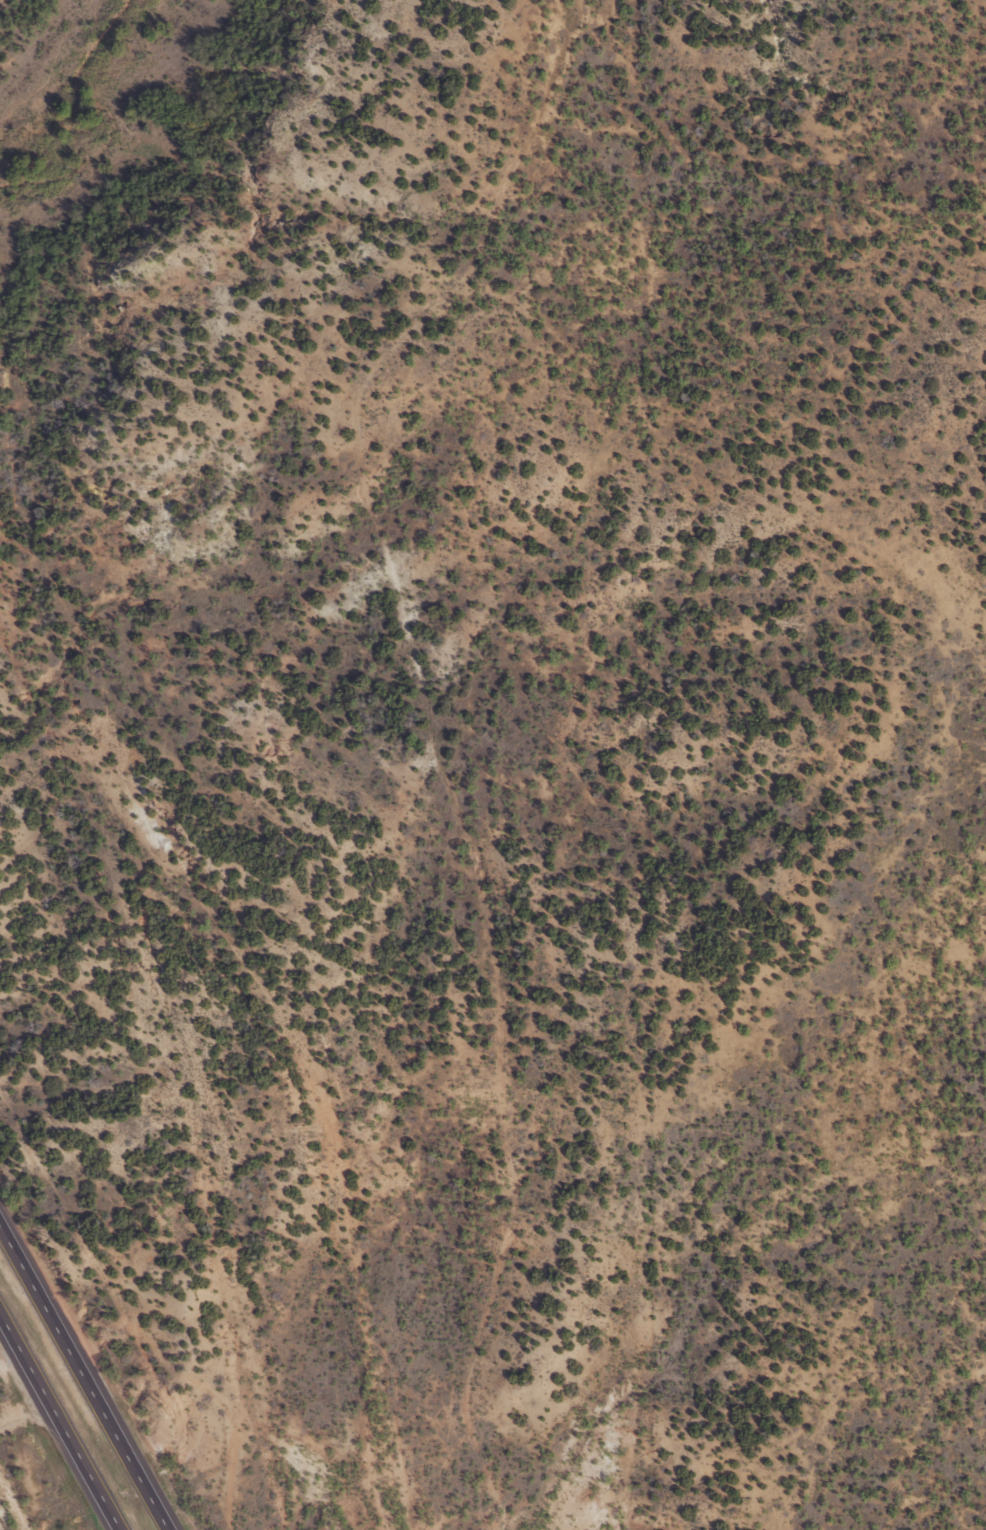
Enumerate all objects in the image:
road: (83, 1380)
road: (64, 1415)

